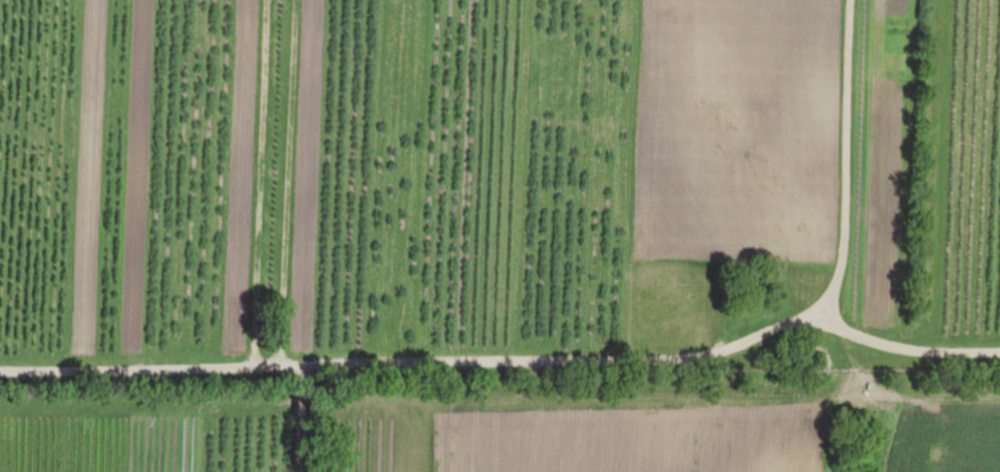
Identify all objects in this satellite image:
road: (907, 349)
road: (577, 359)

